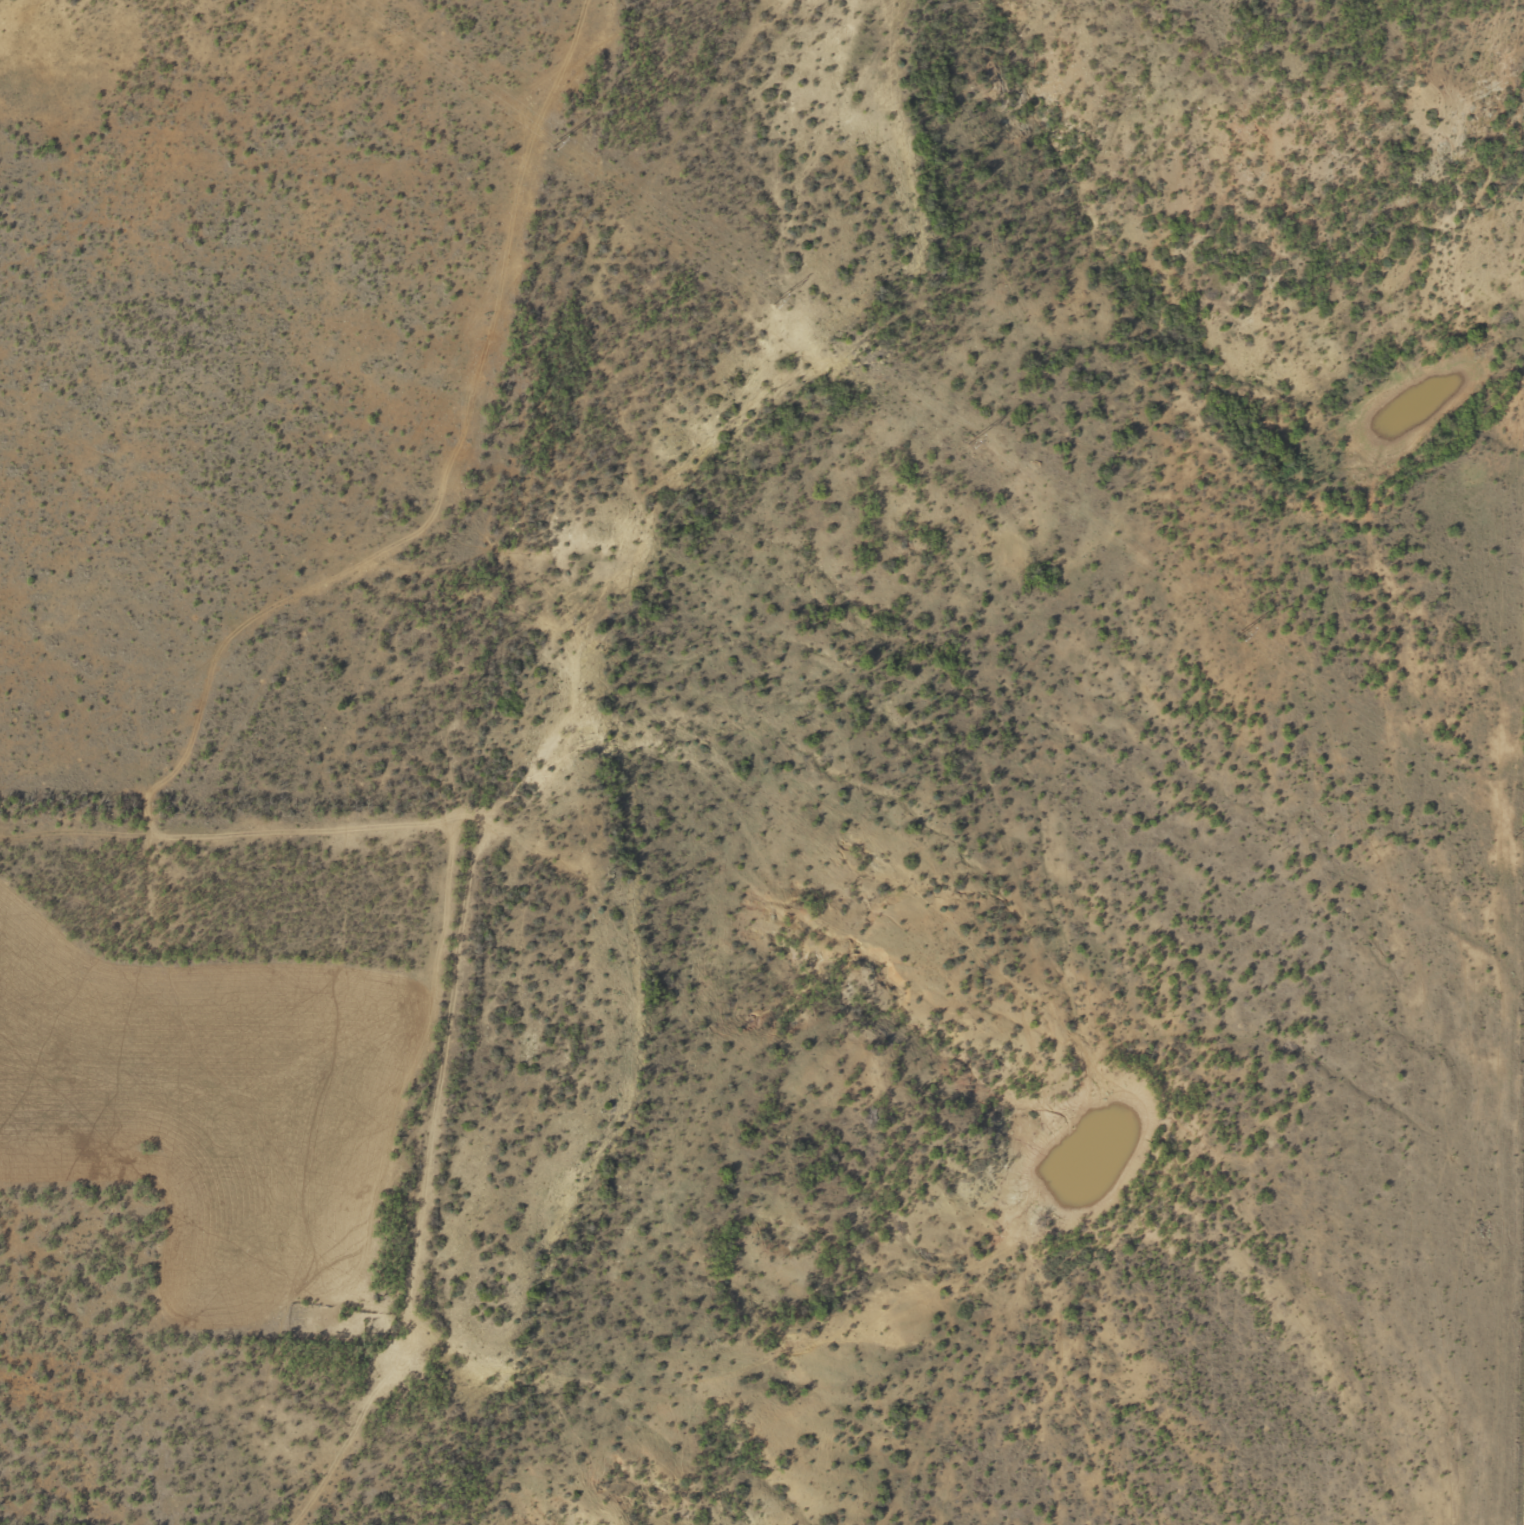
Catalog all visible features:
power tower: (557, 141)
power tower: (776, 299)
power tower: (971, 439)
power tower: (1238, 632)
road: (486, 711)
power tower: (1518, 832)
road: (1520, 1227)

